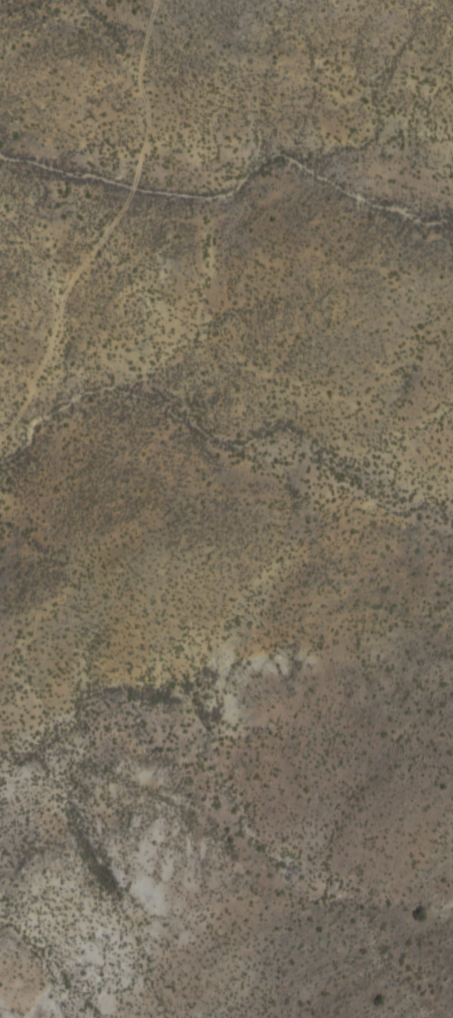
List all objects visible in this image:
road: (111, 227)

